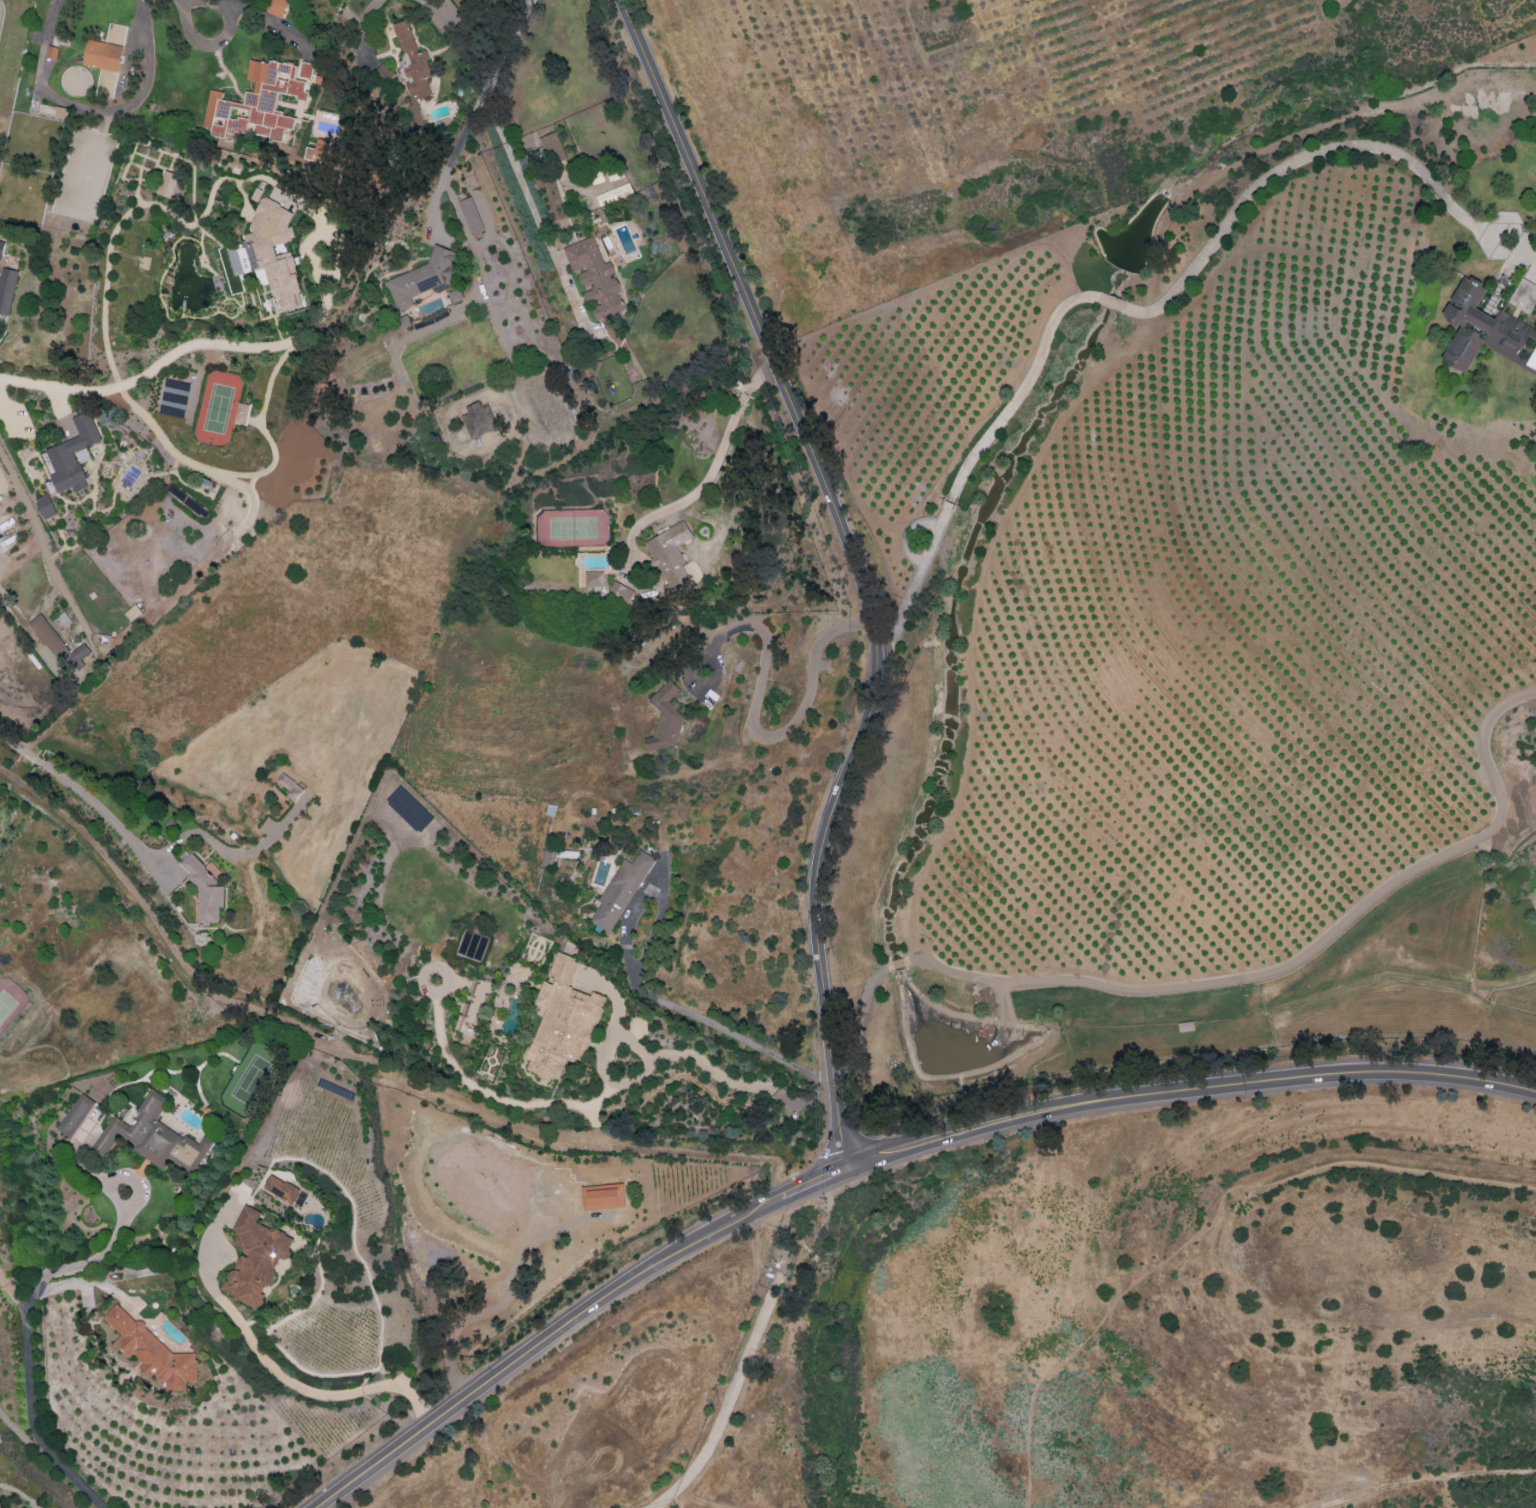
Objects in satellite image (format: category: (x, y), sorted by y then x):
building: (277, 7)
road: (255, 14)
road: (207, 43)
road: (508, 45)
building: (102, 55)
building: (412, 60)
building: (306, 69)
building: (255, 102)
road: (95, 109)
building: (553, 147)
building: (320, 152)
road: (451, 161)
road: (524, 189)
building: (470, 216)
building: (1, 247)
building: (265, 252)
building: (423, 277)
building: (595, 278)
building: (7, 289)
building: (456, 295)
building: (1523, 295)
road: (1170, 297)
building: (1481, 328)
road: (199, 346)
building: (1532, 361)
road: (37, 394)
building: (242, 413)
building: (478, 420)
building: (72, 455)
road: (713, 469)
road: (22, 495)
building: (46, 505)
road: (46, 554)
building: (670, 558)
road: (857, 568)
building: (594, 579)
building: (618, 592)
building: (59, 644)
building: (665, 718)
road: (755, 731)
building: (289, 785)
road: (76, 789)
building: (204, 890)
building: (620, 891)
road: (632, 974)
road: (1226, 979)
building: (563, 1021)
road: (351, 1054)
road: (674, 1055)
road: (1188, 1092)
building: (76, 1115)
building: (154, 1138)
road: (815, 1184)
building: (281, 1188)
building: (603, 1196)
building: (301, 1198)
road: (1208, 1228)
building: (254, 1258)
road: (88, 1260)
road: (14, 1298)
road: (1352, 1318)
road: (544, 1339)
building: (152, 1351)
road: (288, 1379)
road: (74, 1404)
road: (727, 1411)
road: (39, 1424)
road: (23, 1438)
road: (1424, 1479)
road: (700, 1500)

